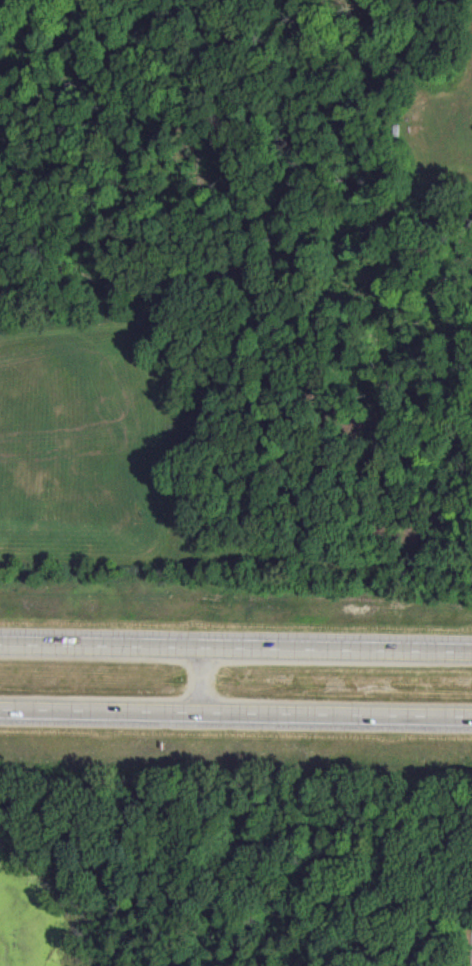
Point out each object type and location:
crop: (236, 288)
road: (236, 644)
road: (203, 676)
road: (235, 709)

